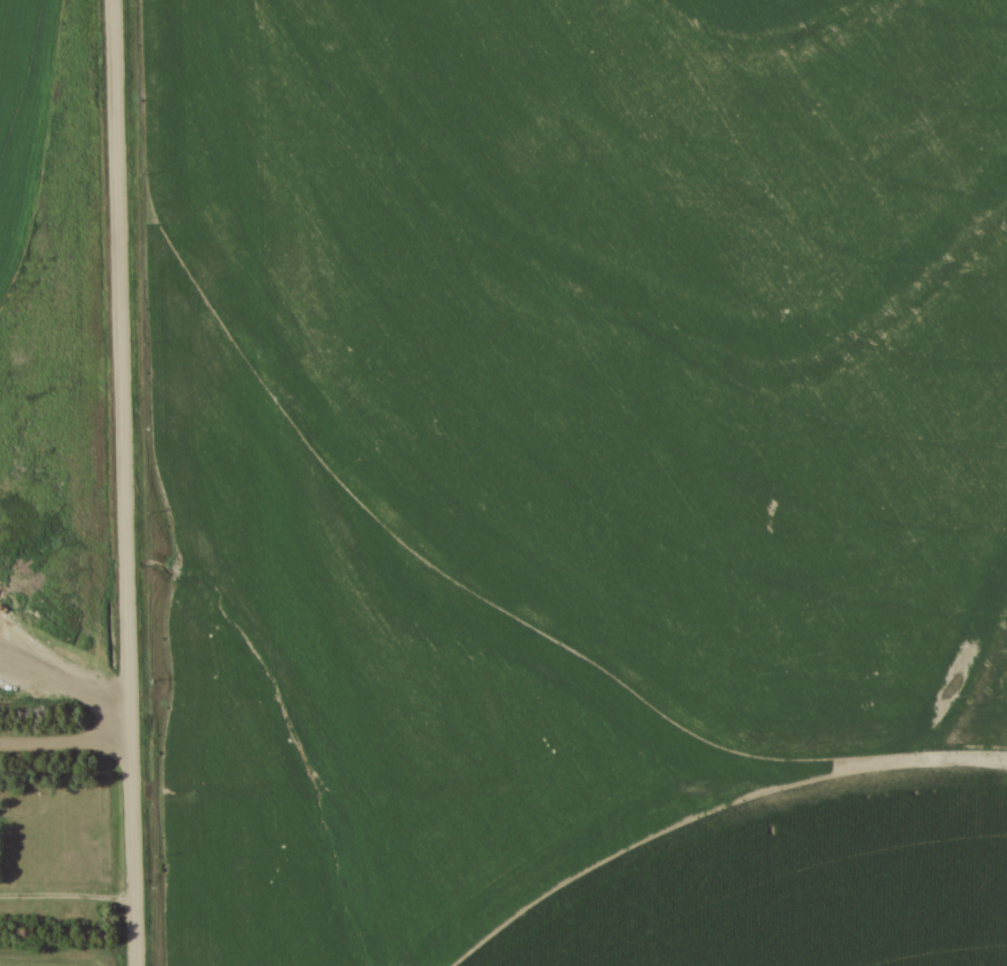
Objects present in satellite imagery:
road: (125, 483)
road: (66, 739)
road: (68, 896)

